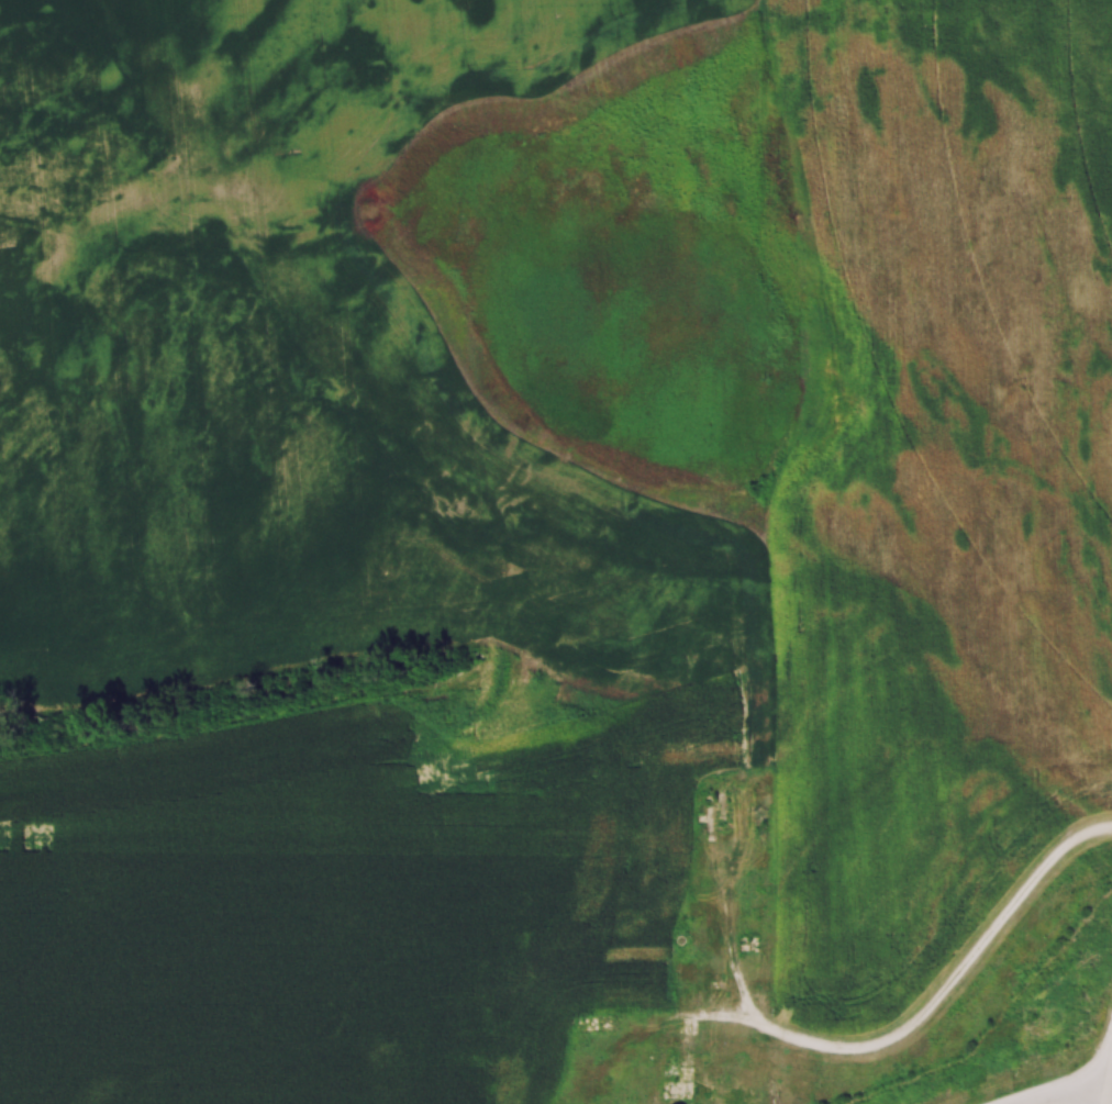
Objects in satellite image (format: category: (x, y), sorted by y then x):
road: (949, 984)
street lamp: (1016, 1086)
road: (1067, 1090)
road: (1110, 1094)

